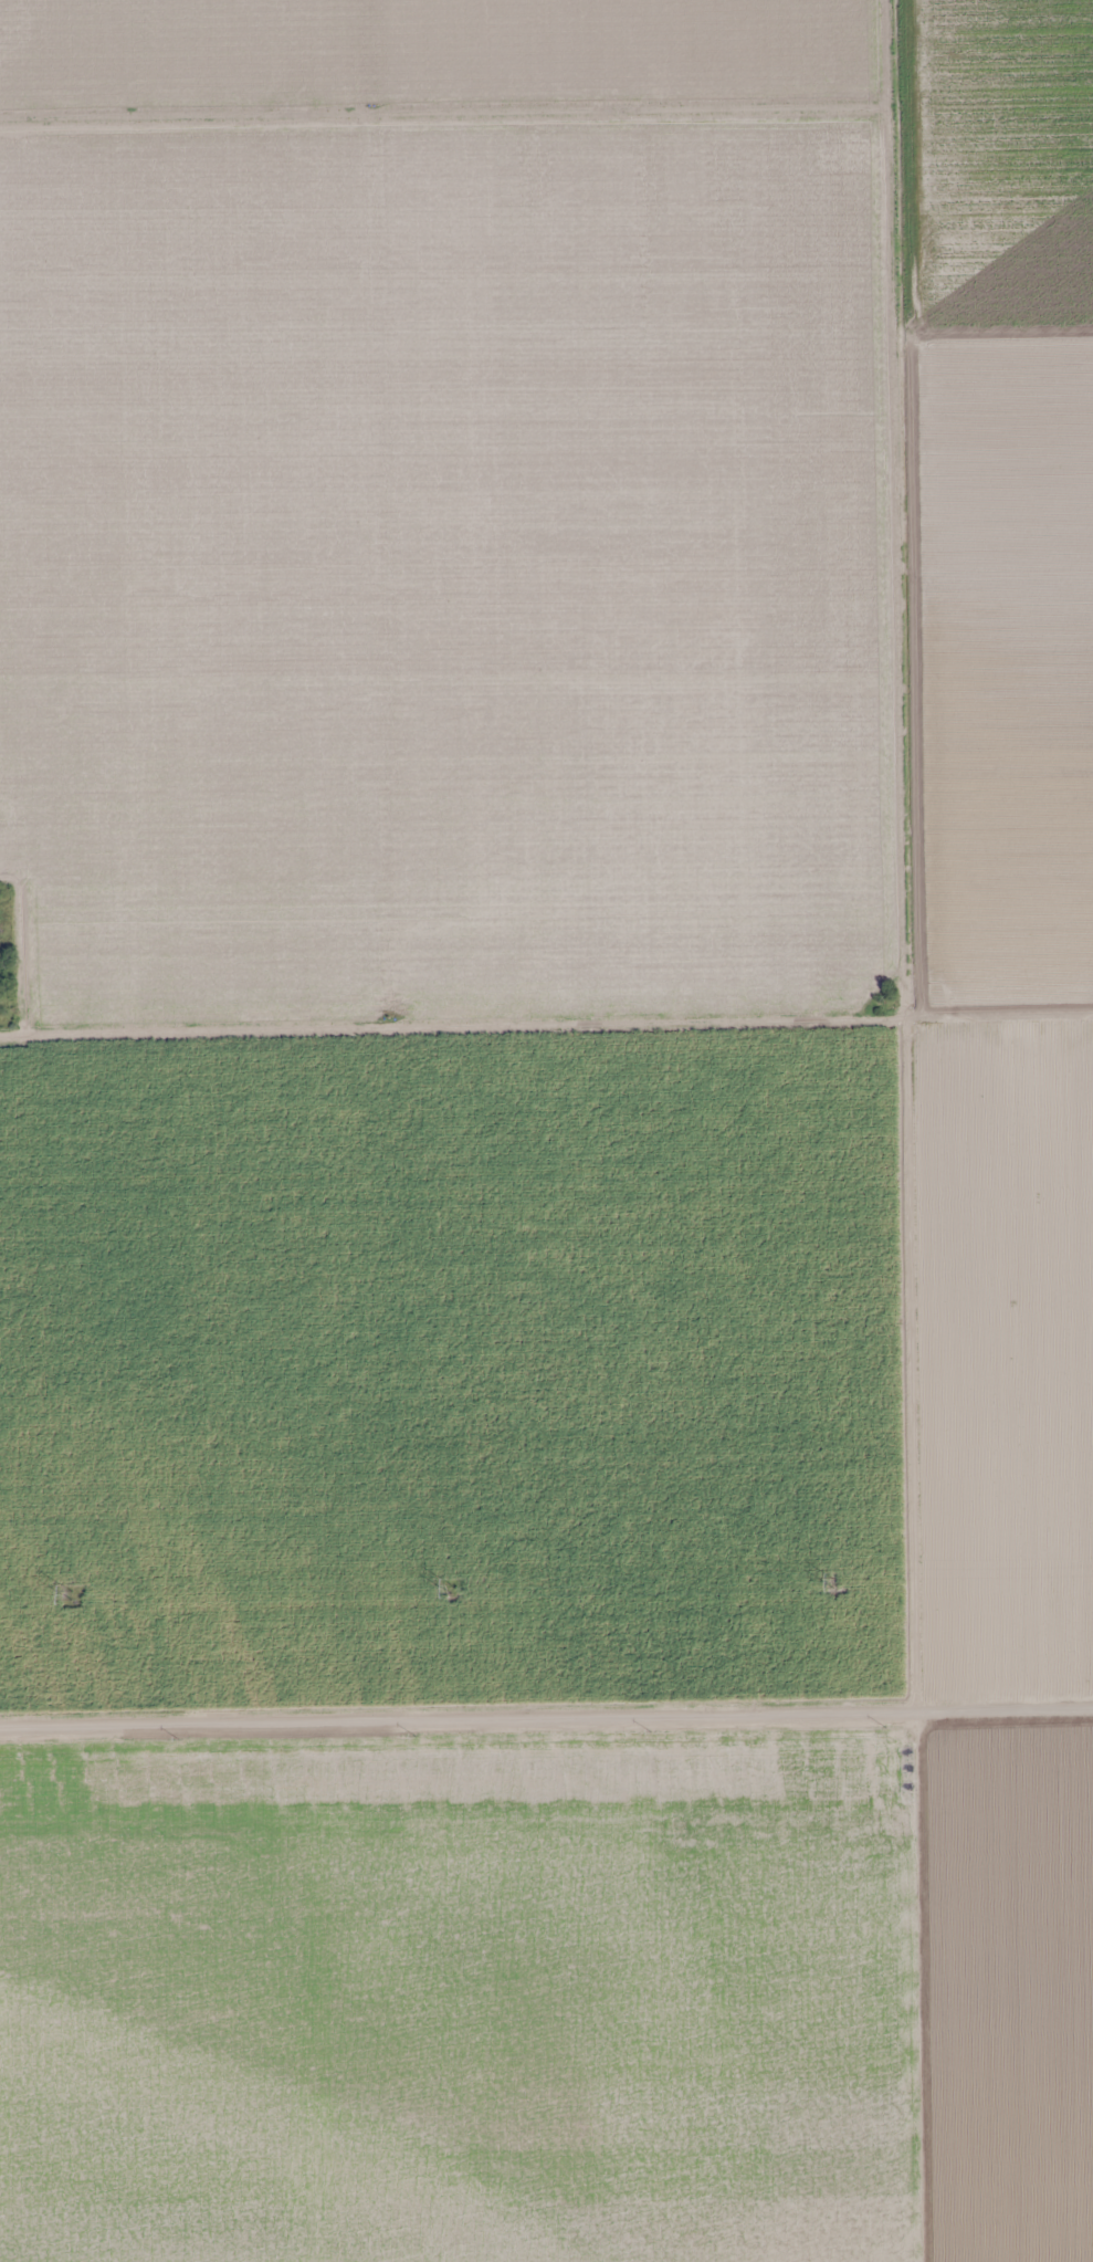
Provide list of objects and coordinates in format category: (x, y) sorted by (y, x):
road: (443, 111)
road: (893, 857)
power tower: (828, 1580)
power tower: (446, 1586)
power tower: (66, 1592)
road: (546, 1721)
road: (905, 1989)

